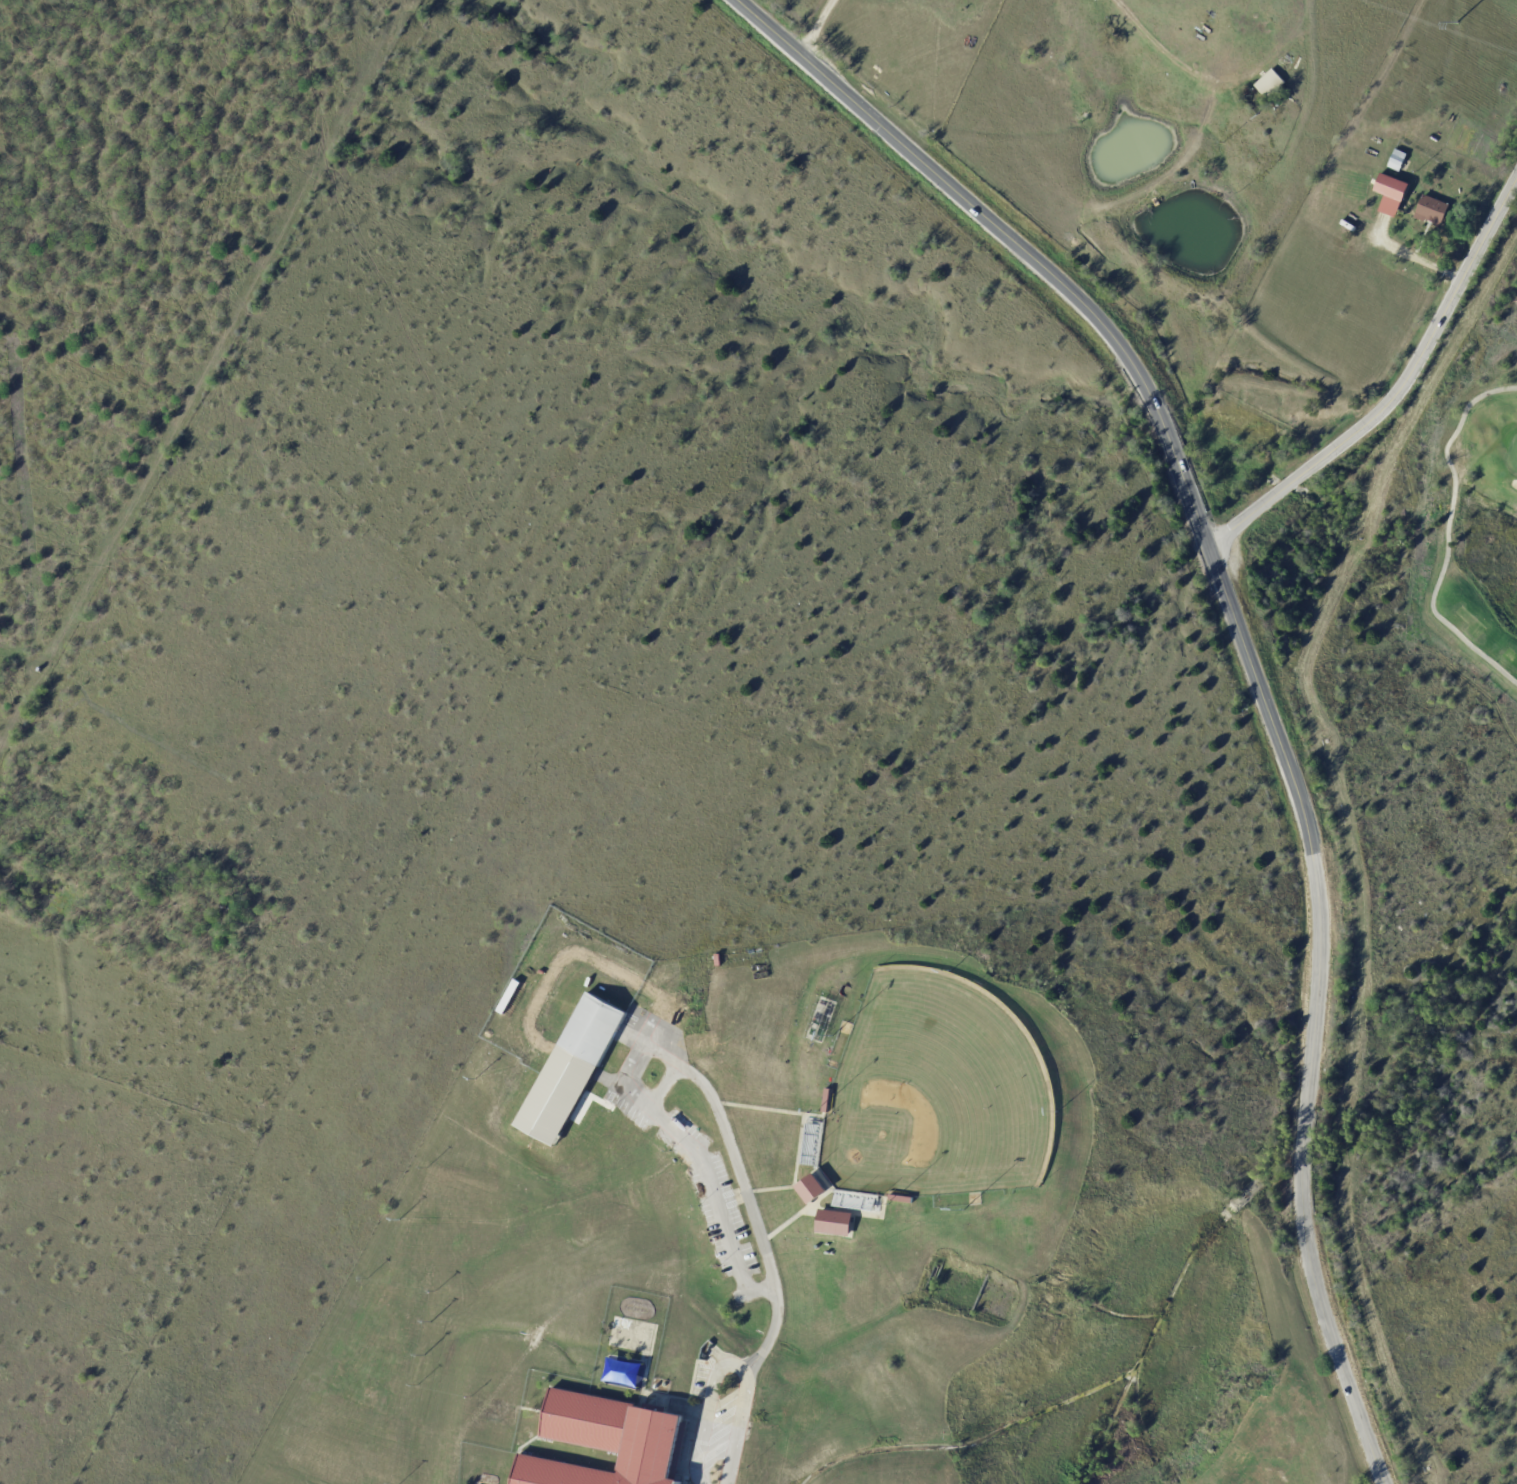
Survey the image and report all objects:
power tower: (1457, 24)
road: (819, 28)
building: (1272, 82)
building: (1436, 138)
building: (1399, 160)
building: (1394, 195)
building: (1435, 209)
road: (1396, 395)
park: (1449, 526)
road: (1447, 533)
road: (1248, 656)
building: (577, 1074)
park: (933, 1093)
building: (828, 1100)
road: (703, 1180)
road: (742, 1187)
building: (815, 1189)
building: (854, 1199)
building: (903, 1199)
building: (836, 1223)
road: (732, 1364)
parking lot: (724, 1429)
building: (616, 1442)

